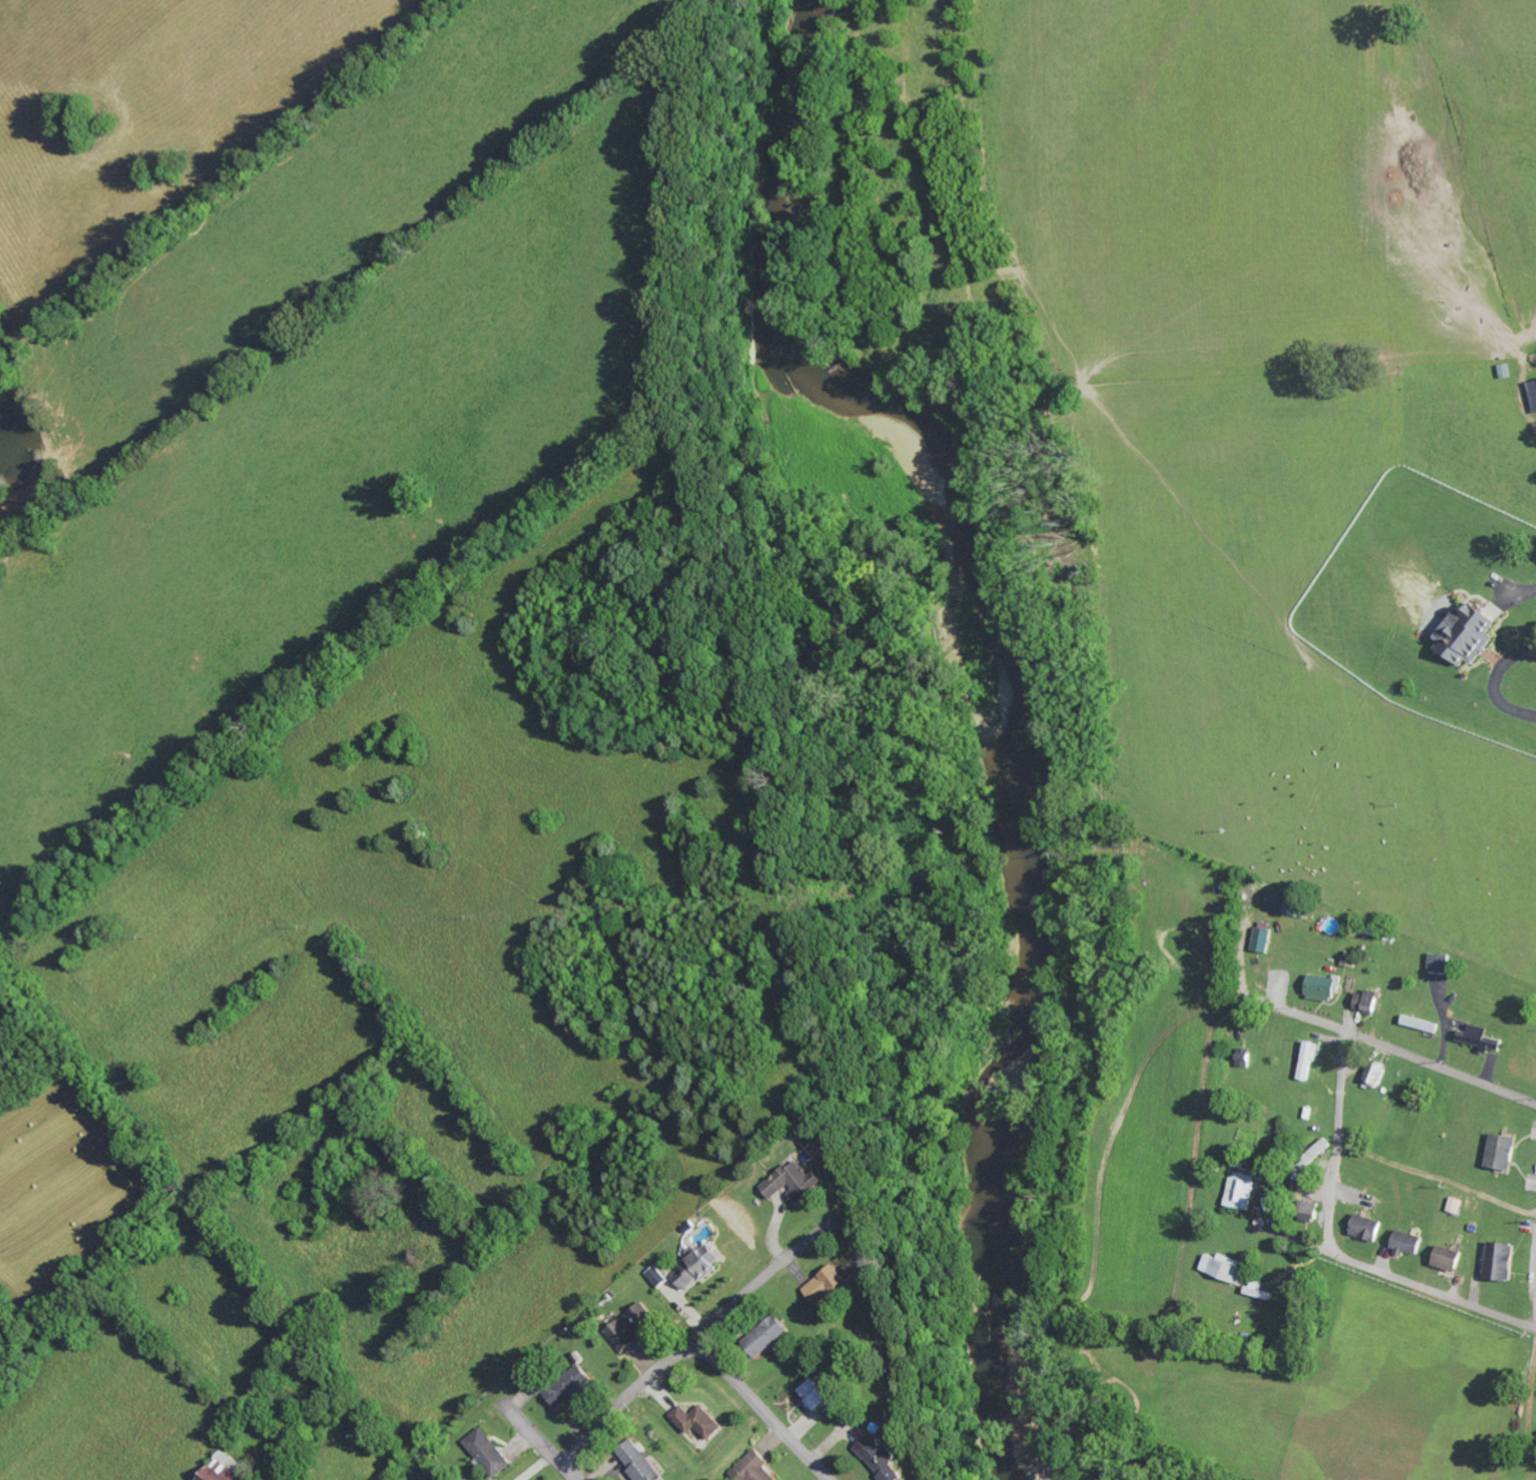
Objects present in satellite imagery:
building: (1535, 388)
building: (1472, 634)
building: (1277, 898)
building: (1296, 907)
building: (1264, 939)
building: (1441, 963)
building: (1324, 986)
building: (1368, 1001)
road: (1286, 1011)
building: (1422, 1024)
building: (1482, 1038)
building: (1248, 1059)
building: (1311, 1061)
road: (1422, 1062)
road: (1242, 1121)
road: (1337, 1142)
building: (1505, 1152)
building: (795, 1182)
building: (1242, 1190)
building: (1457, 1205)
building: (1315, 1213)
building: (1368, 1228)
building: (1410, 1243)
building: (1451, 1259)
building: (1504, 1262)
building: (699, 1266)
building: (1229, 1268)
building: (659, 1276)
road: (1402, 1281)
building: (828, 1285)
road: (745, 1294)
building: (634, 1326)
building: (771, 1334)
building: (565, 1385)
building: (819, 1393)
road: (627, 1399)
road: (763, 1410)
building: (701, 1420)
road: (546, 1446)
building: (490, 1451)
building: (885, 1458)
building: (641, 1462)
building: (758, 1467)
building: (230, 1468)

